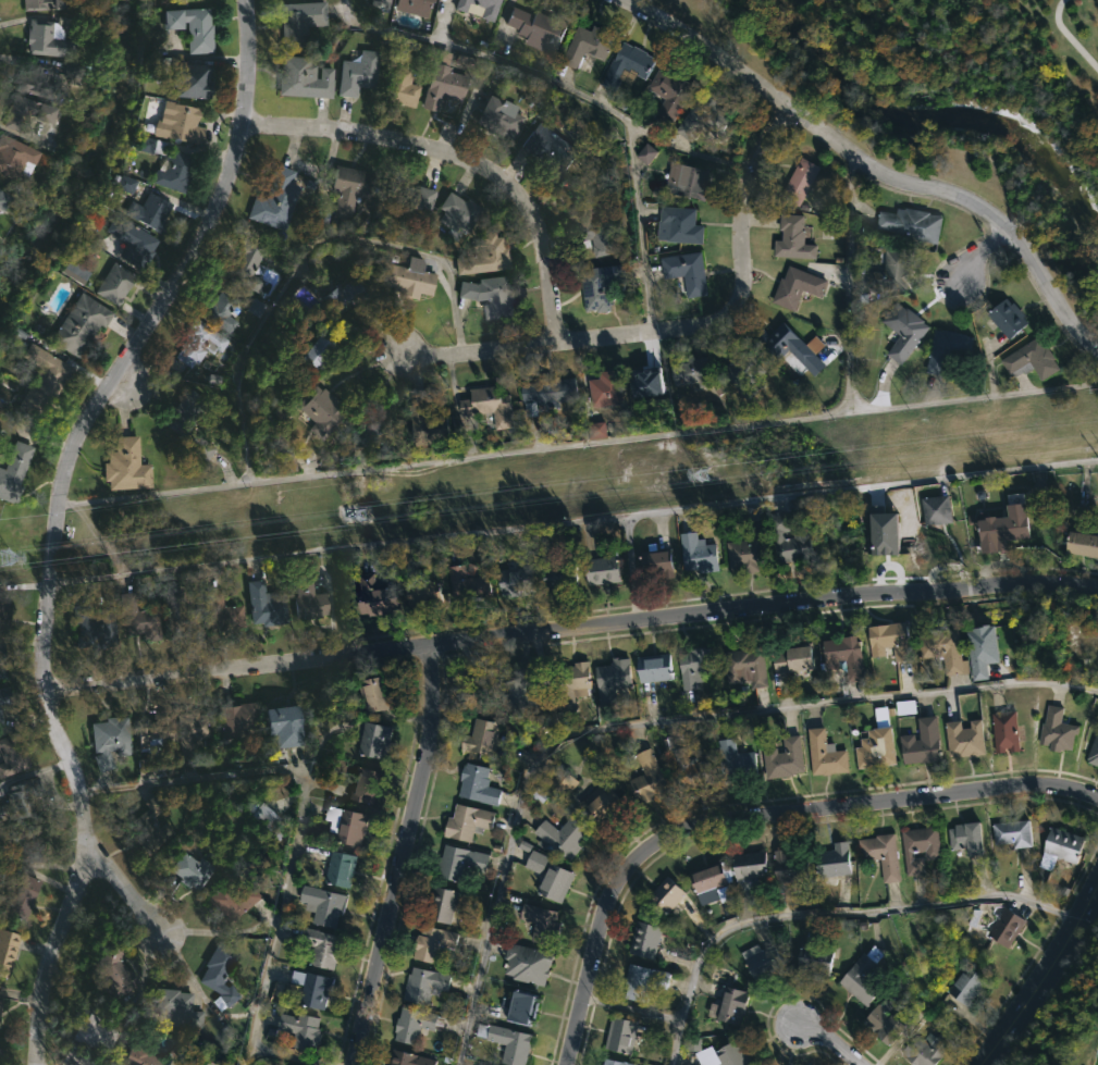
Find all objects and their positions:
building: (45, 4)
building: (382, 5)
building: (415, 7)
building: (490, 13)
building: (298, 21)
building: (193, 27)
building: (541, 28)
road: (1069, 38)
building: (45, 40)
building: (584, 46)
building: (422, 52)
building: (443, 58)
building: (624, 65)
building: (69, 69)
park: (972, 70)
building: (359, 73)
building: (184, 77)
building: (35, 78)
building: (303, 78)
building: (445, 85)
building: (398, 87)
road: (579, 94)
building: (667, 94)
park: (949, 101)
building: (28, 113)
building: (502, 117)
building: (701, 117)
building: (181, 123)
building: (550, 148)
building: (645, 153)
building: (14, 157)
road: (460, 158)
building: (168, 163)
road: (869, 171)
building: (684, 181)
building: (799, 182)
building: (125, 184)
building: (350, 189)
building: (591, 195)
building: (276, 198)
building: (4, 200)
building: (407, 200)
building: (151, 211)
building: (459, 212)
building: (677, 225)
building: (910, 226)
building: (791, 238)
building: (600, 239)
building: (134, 242)
building: (484, 255)
road: (972, 255)
building: (75, 265)
building: (246, 265)
building: (684, 271)
building: (889, 271)
building: (410, 277)
building: (118, 283)
road: (853, 283)
building: (601, 284)
building: (794, 286)
building: (492, 294)
building: (345, 296)
building: (217, 309)
building: (1006, 318)
building: (83, 324)
building: (902, 330)
road: (678, 333)
building: (195, 343)
building: (779, 344)
building: (321, 348)
building: (945, 349)
building: (1029, 359)
building: (690, 371)
building: (741, 372)
building: (646, 383)
building: (41, 388)
building: (603, 388)
building: (547, 391)
building: (488, 405)
building: (322, 409)
building: (184, 411)
building: (422, 421)
building: (377, 425)
building: (596, 430)
road: (581, 441)
building: (203, 443)
building: (129, 466)
building: (14, 469)
power tower: (715, 474)
building: (934, 509)
road: (58, 517)
power tower: (358, 518)
road: (573, 521)
building: (1001, 525)
building: (883, 533)
building: (789, 537)
building: (1081, 544)
building: (747, 548)
building: (698, 553)
power tower: (14, 561)
building: (656, 562)
road: (630, 568)
building: (601, 570)
building: (557, 578)
building: (511, 581)
building: (466, 584)
building: (424, 593)
building: (379, 594)
building: (311, 596)
building: (266, 605)
building: (224, 611)
building: (4, 612)
building: (180, 614)
building: (139, 615)
building: (94, 626)
road: (571, 629)
building: (887, 640)
building: (942, 649)
building: (982, 651)
building: (843, 656)
building: (791, 661)
building: (1, 665)
building: (652, 667)
building: (693, 667)
building: (743, 669)
building: (610, 679)
building: (575, 684)
building: (517, 690)
building: (374, 693)
building: (4, 695)
building: (1, 718)
building: (242, 720)
road: (654, 722)
building: (289, 725)
building: (195, 730)
building: (1056, 730)
building: (1003, 731)
building: (479, 736)
building: (111, 739)
building: (963, 739)
building: (378, 741)
building: (158, 743)
building: (875, 743)
building: (921, 743)
building: (1093, 751)
building: (824, 754)
building: (12, 755)
building: (738, 758)
building: (781, 758)
building: (684, 765)
building: (645, 779)
building: (558, 781)
building: (366, 784)
building: (478, 784)
building: (539, 795)
building: (17, 798)
building: (599, 803)
road: (299, 814)
building: (268, 816)
road: (752, 817)
building: (469, 822)
building: (149, 825)
building: (349, 825)
building: (1010, 833)
building: (565, 835)
building: (965, 838)
building: (34, 843)
building: (1060, 845)
building: (918, 847)
building: (879, 855)
road: (397, 857)
building: (461, 862)
building: (830, 862)
building: (342, 868)
building: (788, 868)
building: (190, 869)
building: (745, 869)
building: (553, 875)
building: (705, 880)
road: (127, 888)
building: (663, 896)
building: (23, 899)
building: (227, 902)
building: (321, 905)
building: (443, 905)
road: (826, 911)
building: (539, 924)
building: (1003, 927)
building: (642, 940)
building: (434, 943)
building: (324, 948)
building: (5, 951)
building: (813, 959)
building: (761, 962)
building: (530, 963)
building: (113, 970)
building: (222, 974)
road: (1041, 976)
building: (861, 977)
building: (641, 982)
building: (421, 984)
building: (965, 987)
building: (314, 989)
building: (730, 1005)
building: (525, 1006)
building: (171, 1010)
building: (880, 1024)
building: (410, 1025)
building: (303, 1029)
building: (92, 1031)
building: (624, 1036)
road: (828, 1041)
building: (508, 1042)
building: (924, 1049)
building: (1, 1055)
building: (720, 1055)
building: (143, 1057)
building: (406, 1060)
building: (615, 1062)

